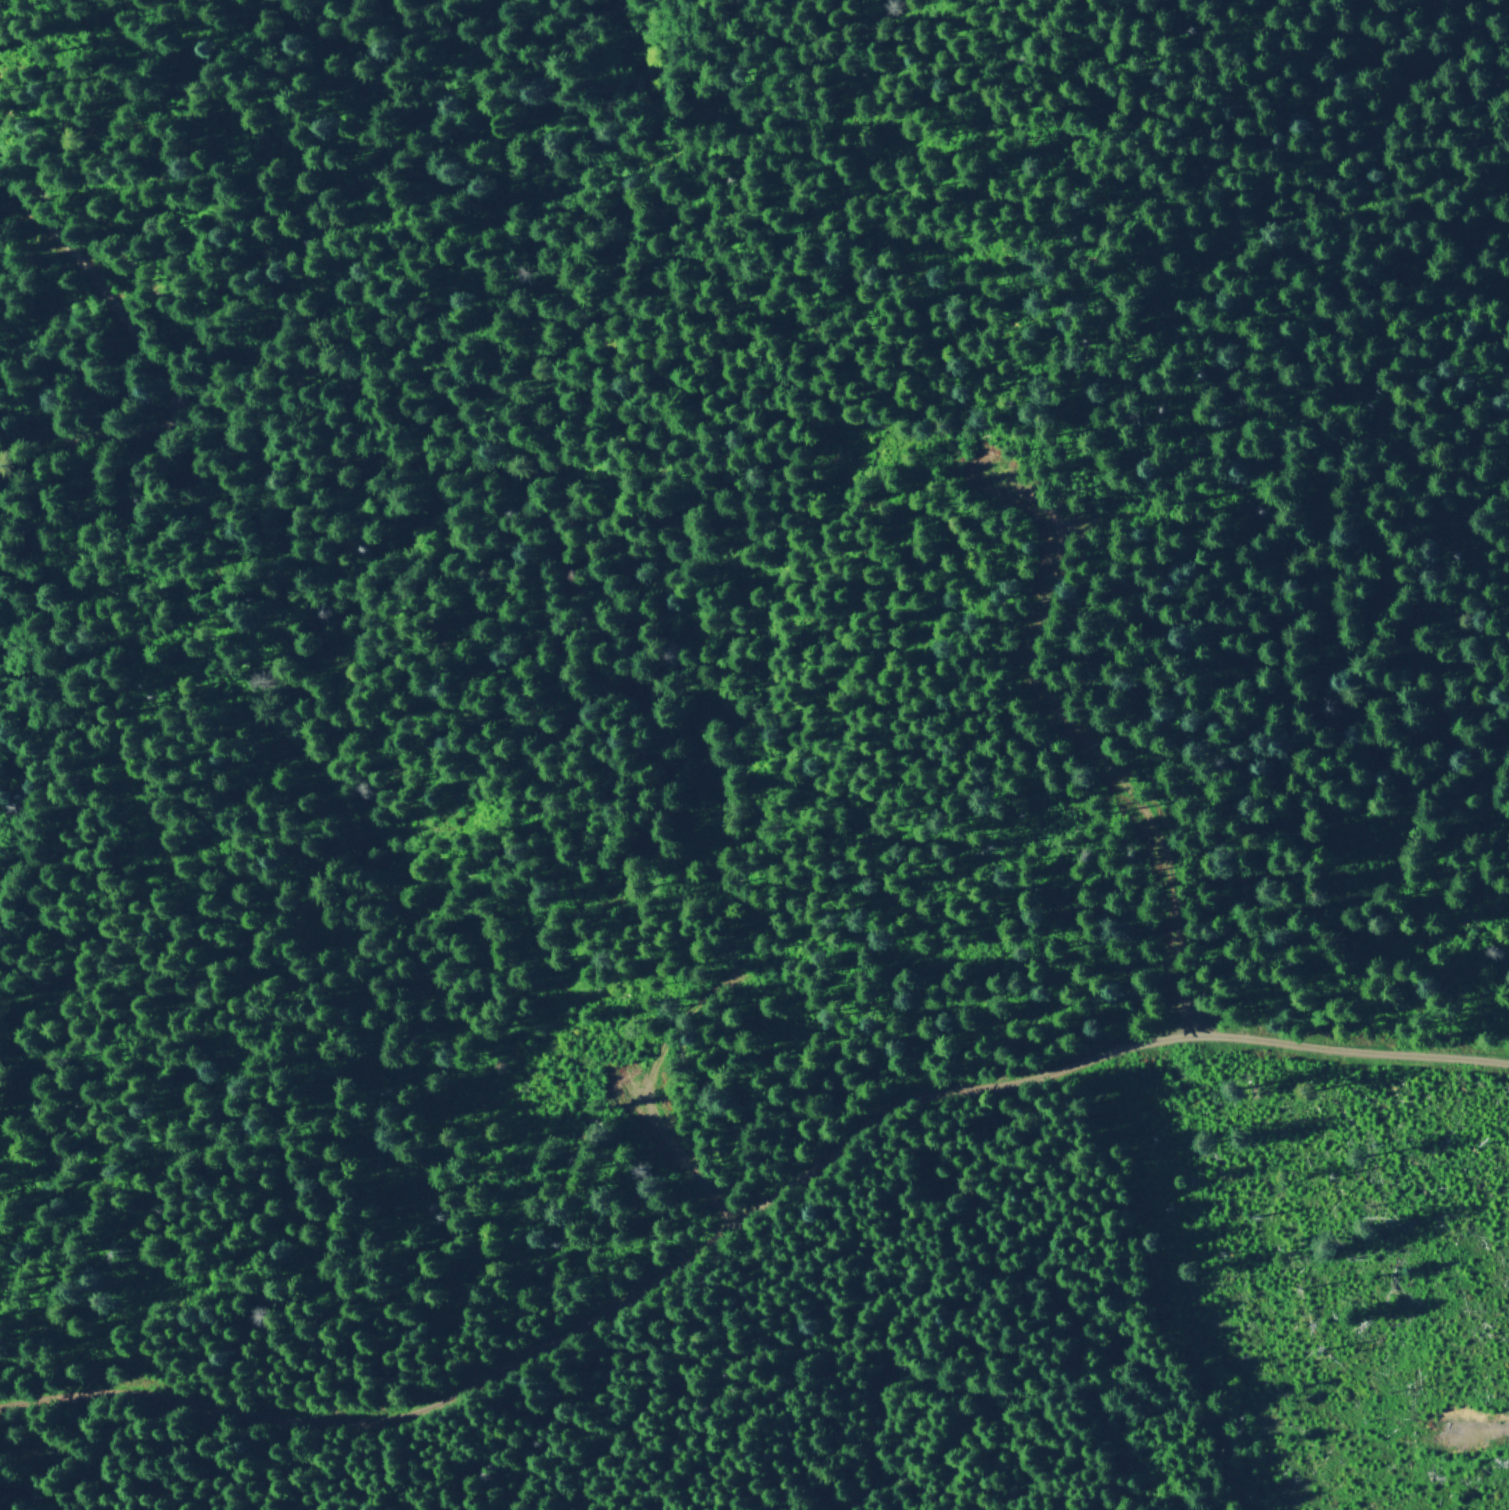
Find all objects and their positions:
road: (738, 1209)

